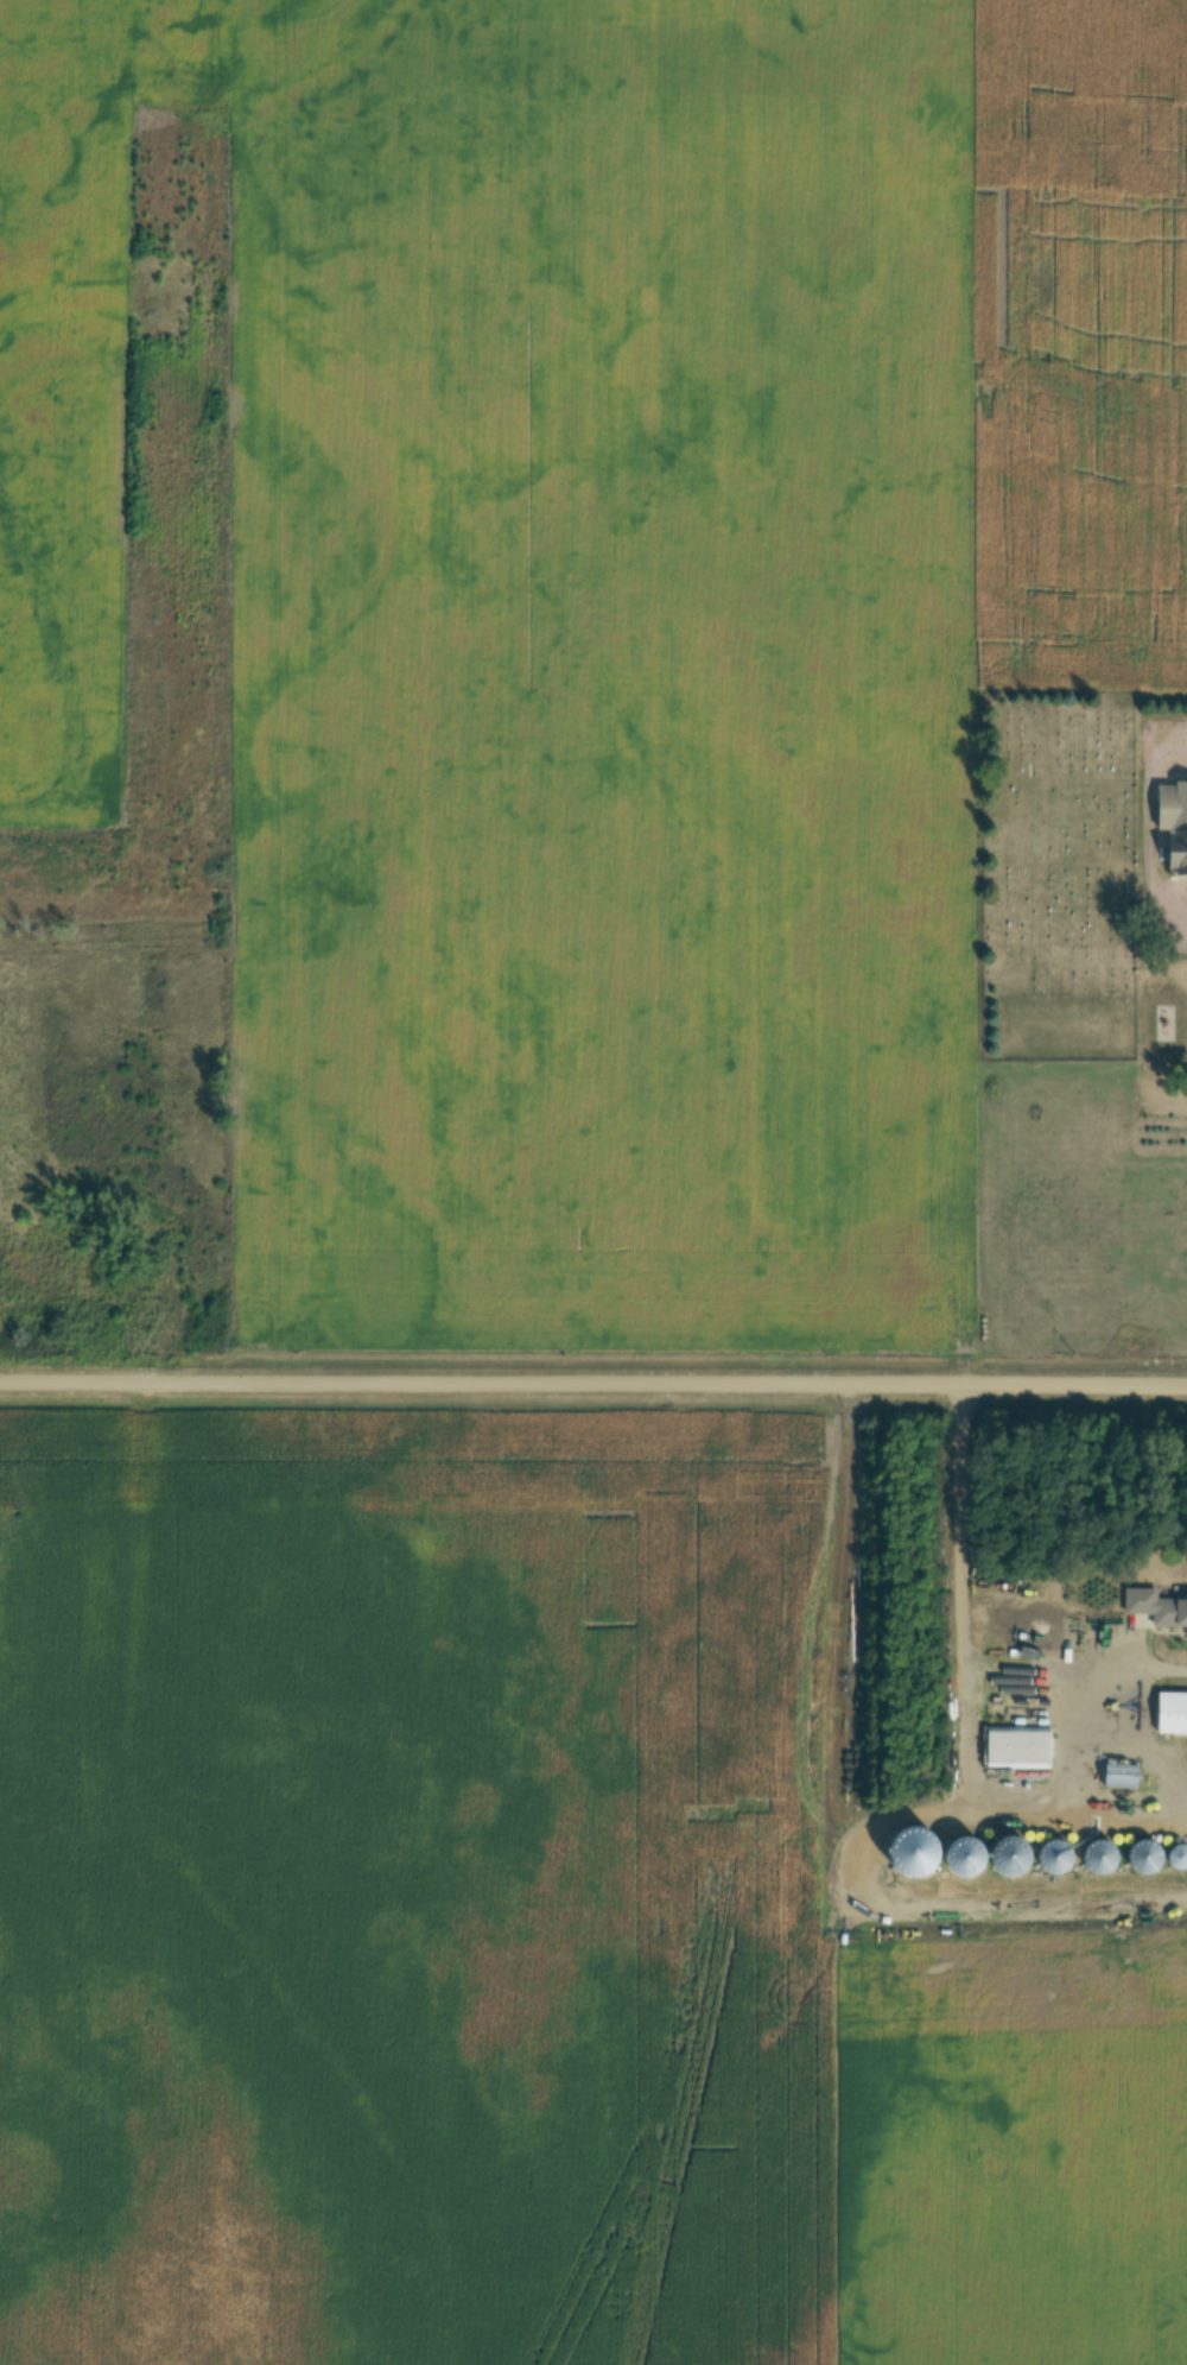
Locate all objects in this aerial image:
building: (1175, 824)
road: (1145, 849)
road: (592, 1381)
building: (1157, 1606)
road: (1145, 1663)
road: (967, 1694)
building: (1172, 1713)
road: (1096, 1727)
building: (1020, 1747)
building: (1123, 1776)
road: (848, 1813)
building: (966, 1857)
building: (1102, 1857)
building: (1180, 1858)
building: (1010, 1859)
building: (1055, 1859)
building: (1143, 1859)

